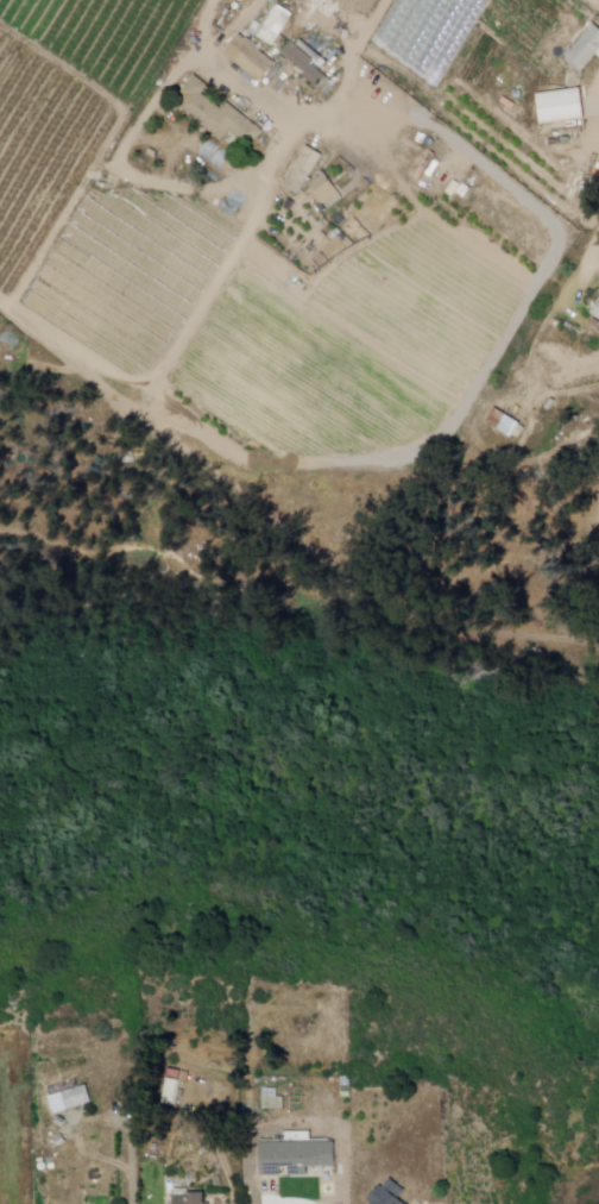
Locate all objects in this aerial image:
crop: (349, 7)
building: (275, 25)
crop: (446, 40)
building: (585, 50)
building: (248, 58)
building: (303, 64)
building: (561, 107)
building: (215, 114)
building: (303, 169)
crop: (96, 184)
building: (326, 193)
road: (589, 195)
road: (222, 278)
building: (595, 311)
road: (49, 337)
building: (506, 426)
building: (343, 1081)
building: (171, 1089)
building: (346, 1095)
building: (75, 1096)
building: (269, 1100)
building: (297, 1153)
road: (134, 1172)
building: (385, 1193)
building: (187, 1196)

